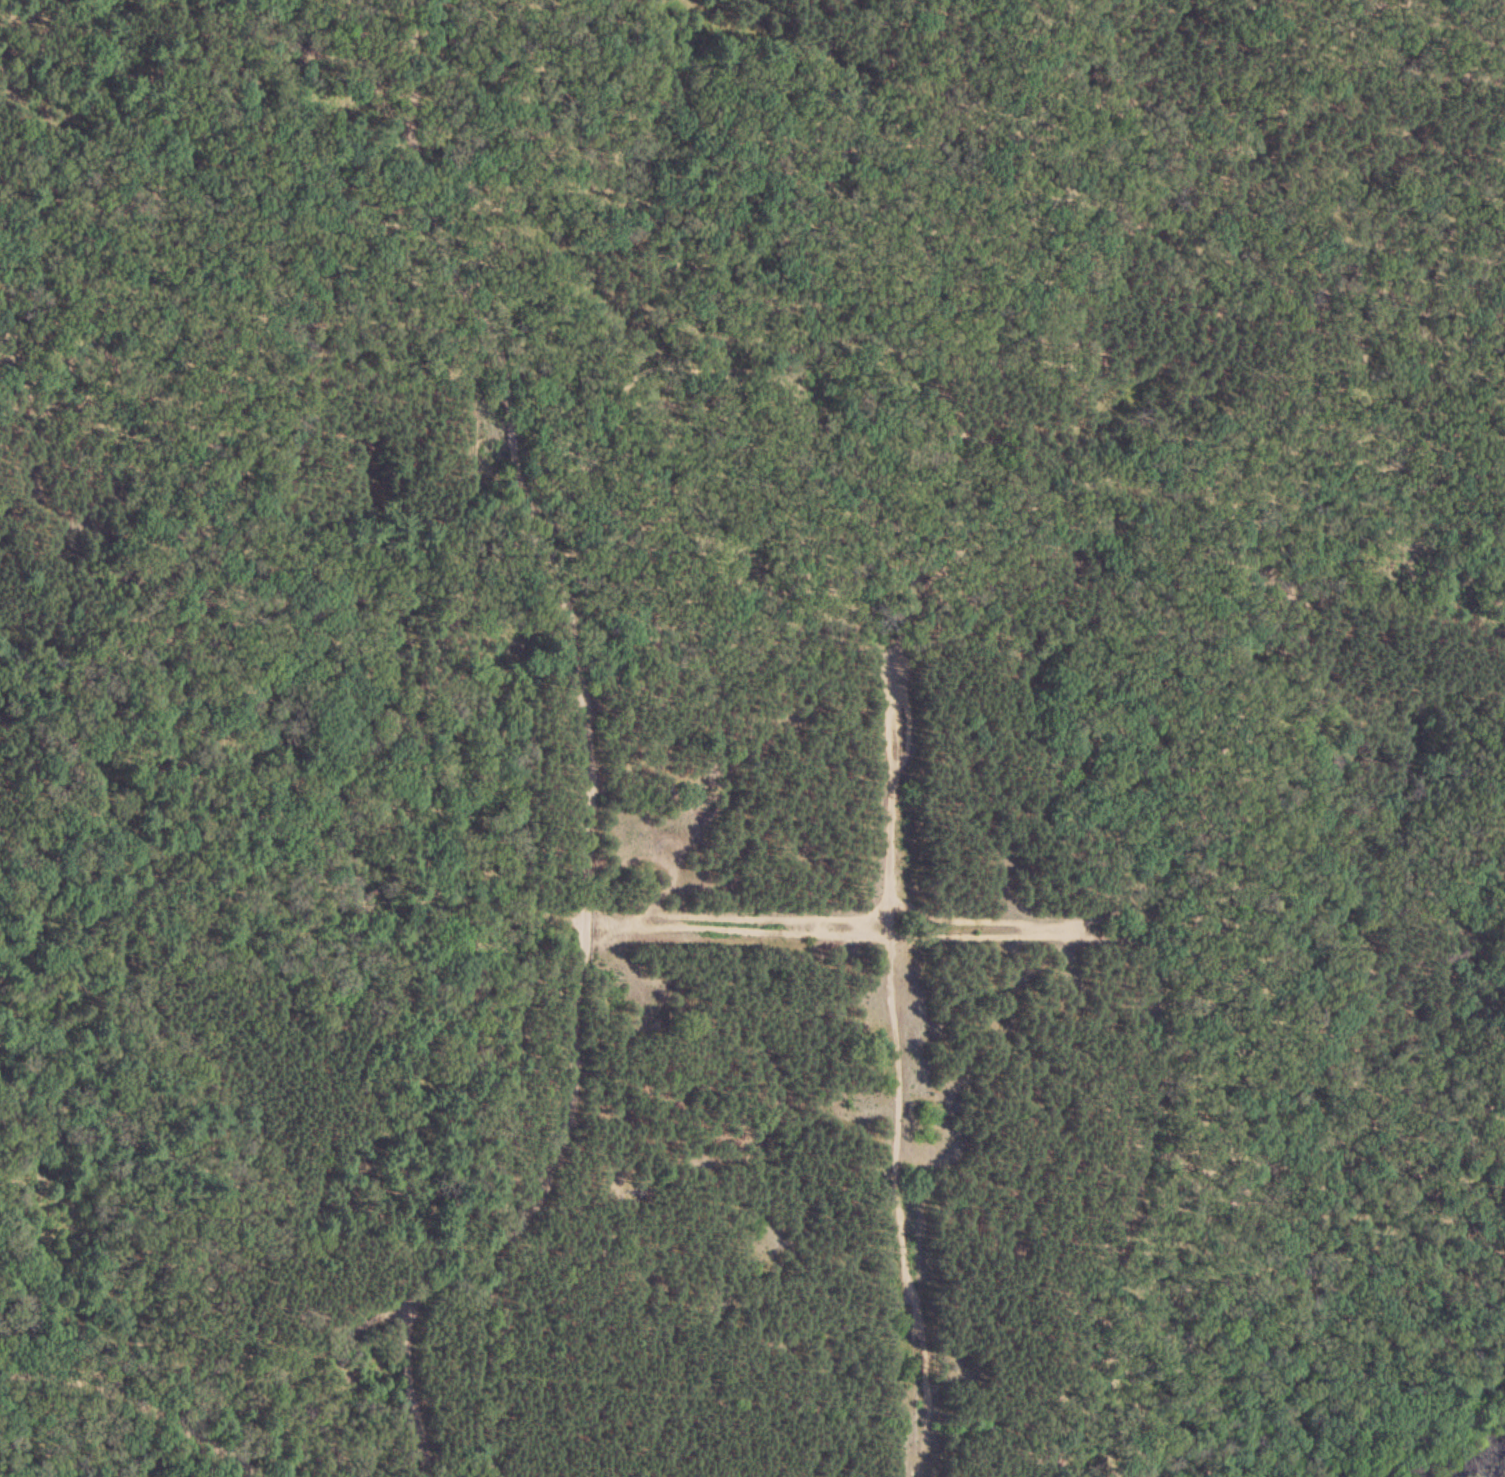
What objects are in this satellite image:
road: (559, 659)
road: (274, 1334)
road: (410, 1377)
road: (145, 1393)

